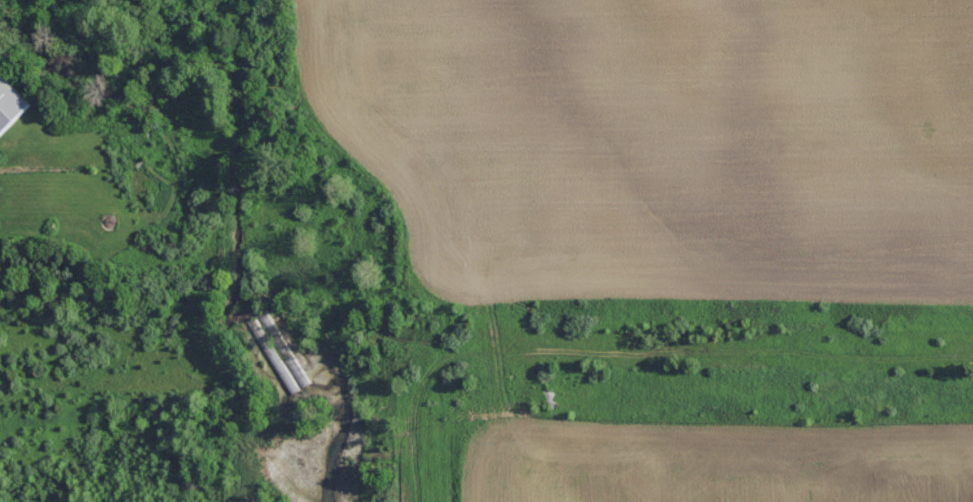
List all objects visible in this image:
building: (10, 102)

